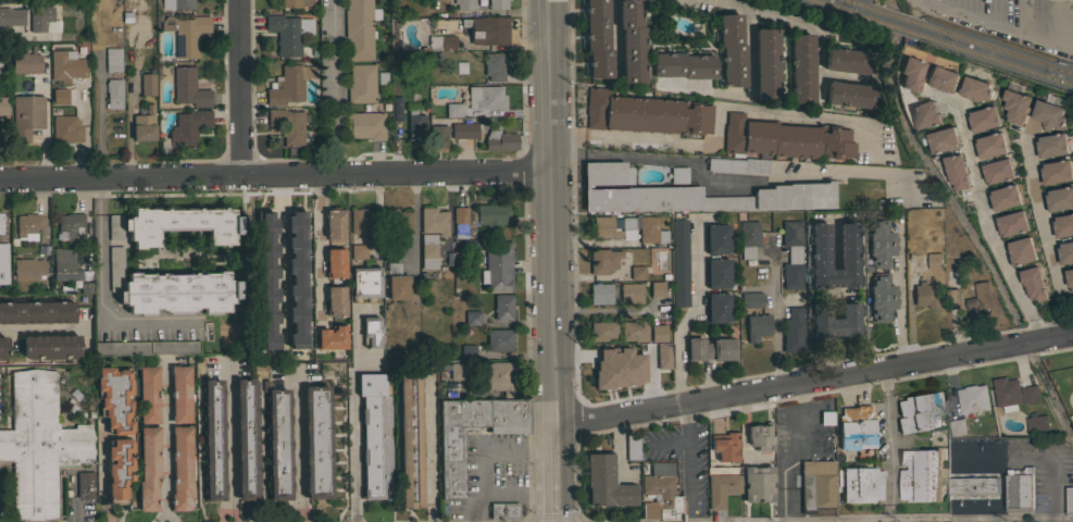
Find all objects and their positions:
building: (1058, 0)
building: (294, 3)
building: (176, 4)
building: (464, 4)
building: (497, 4)
railway: (860, 5)
railway: (846, 9)
building: (11, 16)
railway: (894, 16)
building: (40, 17)
road: (807, 24)
railway: (893, 24)
road: (997, 26)
building: (359, 29)
building: (486, 29)
building: (288, 33)
road: (615, 33)
building: (186, 34)
building: (597, 39)
building: (632, 40)
building: (441, 42)
building: (731, 49)
railway: (991, 49)
building: (0, 51)
railway: (991, 58)
building: (112, 59)
building: (846, 60)
building: (25, 63)
building: (765, 64)
building: (64, 65)
building: (494, 65)
building: (683, 65)
building: (801, 69)
building: (911, 73)
building: (941, 78)
building: (364, 83)
building: (147, 84)
building: (288, 84)
building: (188, 87)
road: (238, 87)
road: (332, 87)
building: (975, 90)
building: (113, 94)
road: (747, 94)
building: (849, 94)
building: (485, 97)
building: (54, 98)
road: (724, 104)
building: (5, 105)
building: (1015, 107)
building: (397, 109)
building: (452, 110)
building: (645, 113)
building: (925, 115)
building: (1048, 115)
building: (26, 116)
building: (983, 119)
building: (415, 122)
building: (144, 125)
building: (365, 125)
building: (289, 126)
building: (65, 129)
building: (463, 129)
building: (185, 130)
road: (565, 136)
building: (437, 137)
building: (501, 140)
building: (943, 140)
building: (776, 142)
building: (708, 145)
building: (990, 146)
building: (1051, 146)
building: (956, 171)
building: (997, 172)
building: (1056, 172)
road: (274, 174)
building: (678, 174)
road: (729, 182)
building: (689, 194)
road: (99, 195)
building: (1005, 198)
building: (1059, 199)
road: (550, 213)
building: (477, 216)
building: (433, 219)
building: (363, 222)
building: (1, 223)
building: (334, 223)
building: (397, 223)
building: (627, 223)
building: (174, 224)
building: (1011, 224)
building: (28, 225)
building: (70, 225)
road: (986, 225)
building: (1062, 225)
building: (603, 227)
building: (651, 231)
road: (1045, 235)
building: (747, 237)
building: (716, 238)
building: (473, 244)
building: (881, 244)
building: (819, 246)
road: (319, 247)
building: (279, 249)
building: (391, 249)
building: (428, 250)
building: (1021, 251)
building: (358, 252)
building: (1065, 252)
building: (791, 254)
building: (637, 258)
building: (602, 260)
building: (935, 261)
building: (335, 262)
building: (679, 262)
building: (3, 263)
building: (497, 265)
building: (67, 266)
building: (27, 269)
building: (637, 272)
building: (718, 273)
building: (1070, 278)
building: (396, 282)
building: (258, 283)
building: (365, 284)
building: (951, 284)
building: (1033, 284)
building: (303, 288)
building: (170, 289)
building: (657, 289)
building: (631, 293)
building: (600, 294)
building: (927, 295)
building: (881, 297)
building: (981, 297)
building: (751, 299)
road: (899, 299)
building: (336, 300)
road: (102, 303)
building: (502, 307)
building: (718, 307)
road: (603, 310)
building: (37, 311)
road: (691, 311)
building: (969, 312)
building: (472, 318)
road: (774, 318)
building: (835, 321)
building: (757, 326)
building: (793, 330)
building: (602, 331)
building: (634, 331)
building: (371, 332)
building: (658, 333)
building: (332, 337)
building: (499, 339)
building: (51, 346)
building: (2, 347)
building: (146, 347)
building: (626, 349)
building: (711, 349)
building: (466, 351)
building: (659, 357)
building: (596, 361)
building: (458, 370)
building: (498, 376)
road: (813, 381)
road: (885, 382)
building: (148, 394)
building: (180, 394)
building: (1007, 394)
building: (1025, 396)
building: (115, 398)
road: (626, 398)
building: (973, 400)
road: (353, 407)
building: (919, 411)
building: (826, 418)
building: (1036, 426)
building: (856, 427)
building: (957, 427)
building: (375, 435)
building: (759, 437)
building: (247, 438)
road: (671, 438)
building: (212, 439)
building: (411, 439)
road: (298, 440)
road: (230, 442)
building: (276, 442)
building: (316, 442)
building: (39, 445)
building: (633, 446)
road: (163, 447)
building: (719, 448)
road: (888, 449)
road: (787, 450)
road: (484, 452)
road: (431, 455)
road: (1025, 456)
road: (686, 462)
building: (451, 465)
building: (149, 468)
building: (180, 468)
building: (118, 469)
road: (102, 472)
road: (556, 474)
building: (920, 475)
building: (606, 483)
building: (758, 483)
building: (85, 484)
building: (815, 485)
building: (862, 485)
building: (973, 485)
building: (721, 488)
building: (1019, 489)
building: (662, 490)
road: (517, 493)
building: (1069, 501)
building: (502, 510)
road: (298, 511)
road: (888, 512)
road: (167, 517)

